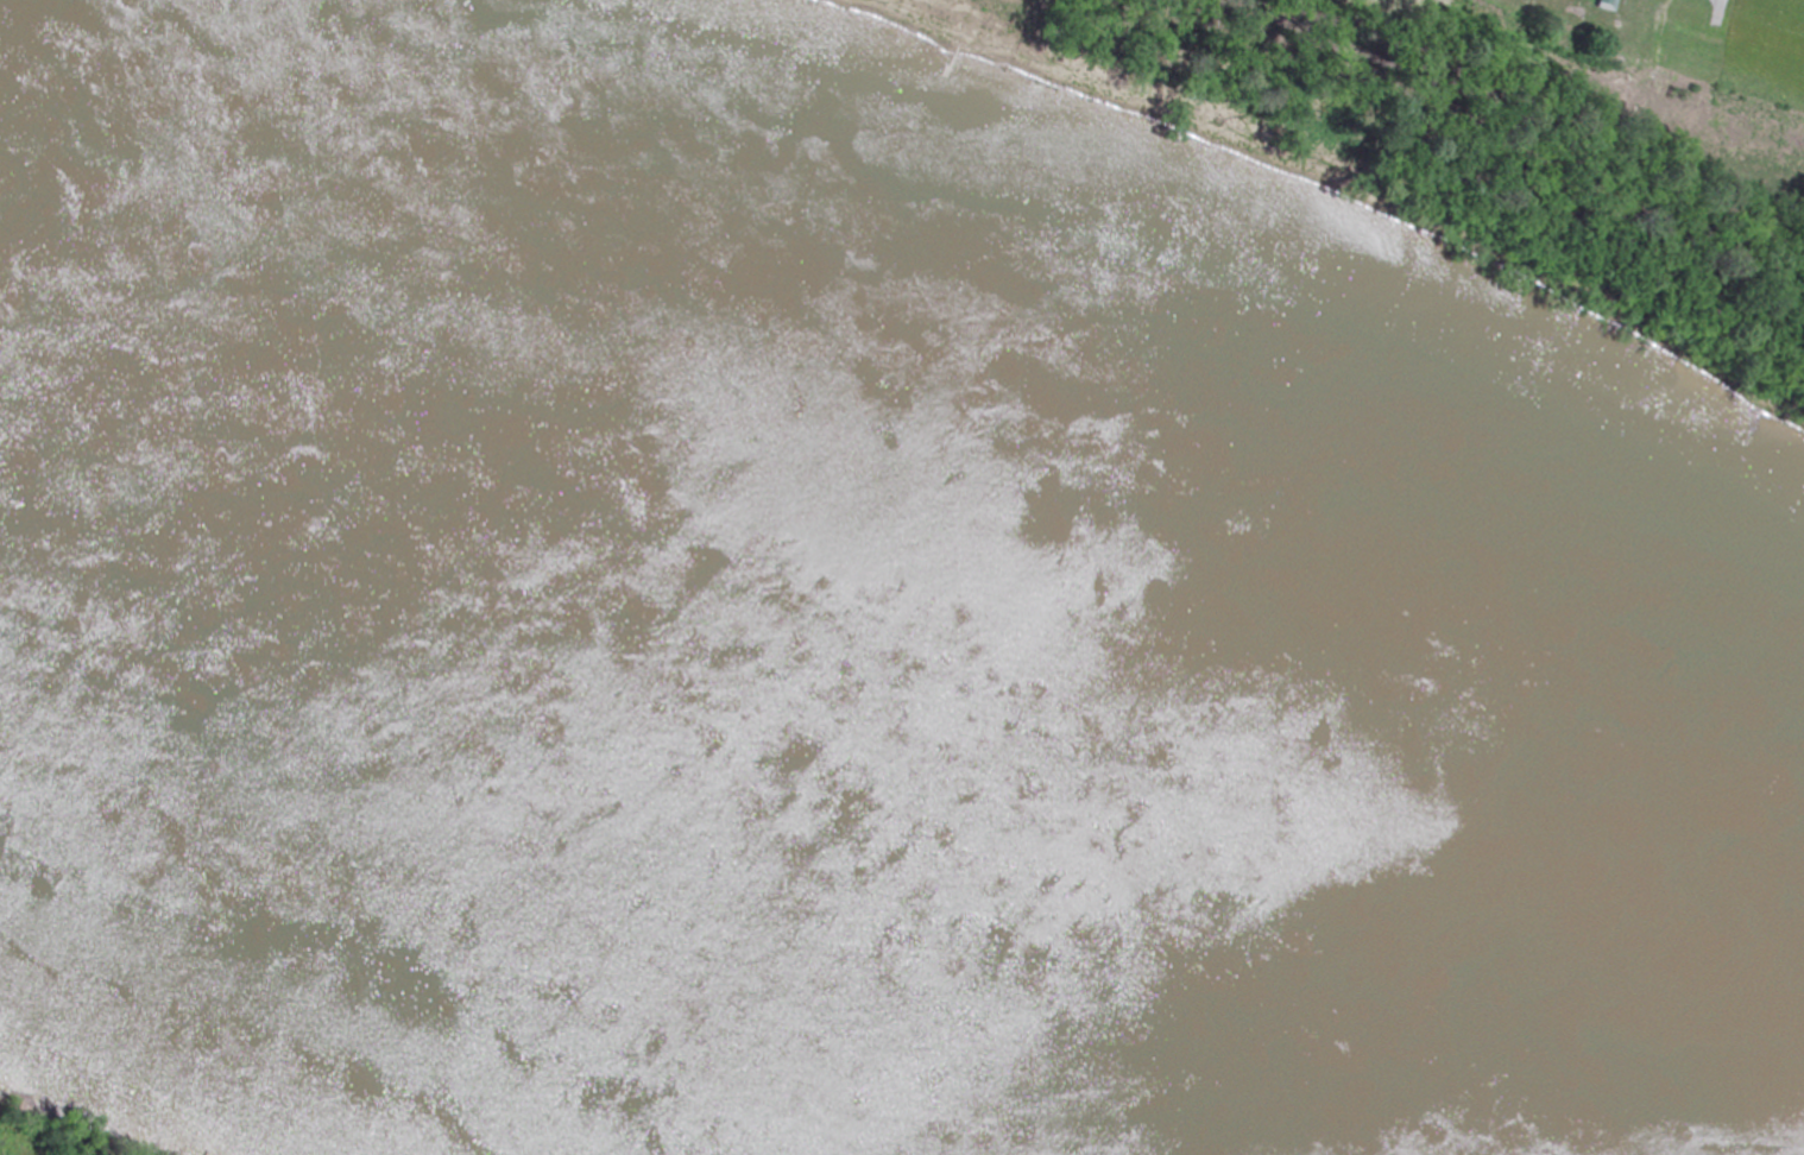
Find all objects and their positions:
river: (721, 762)

